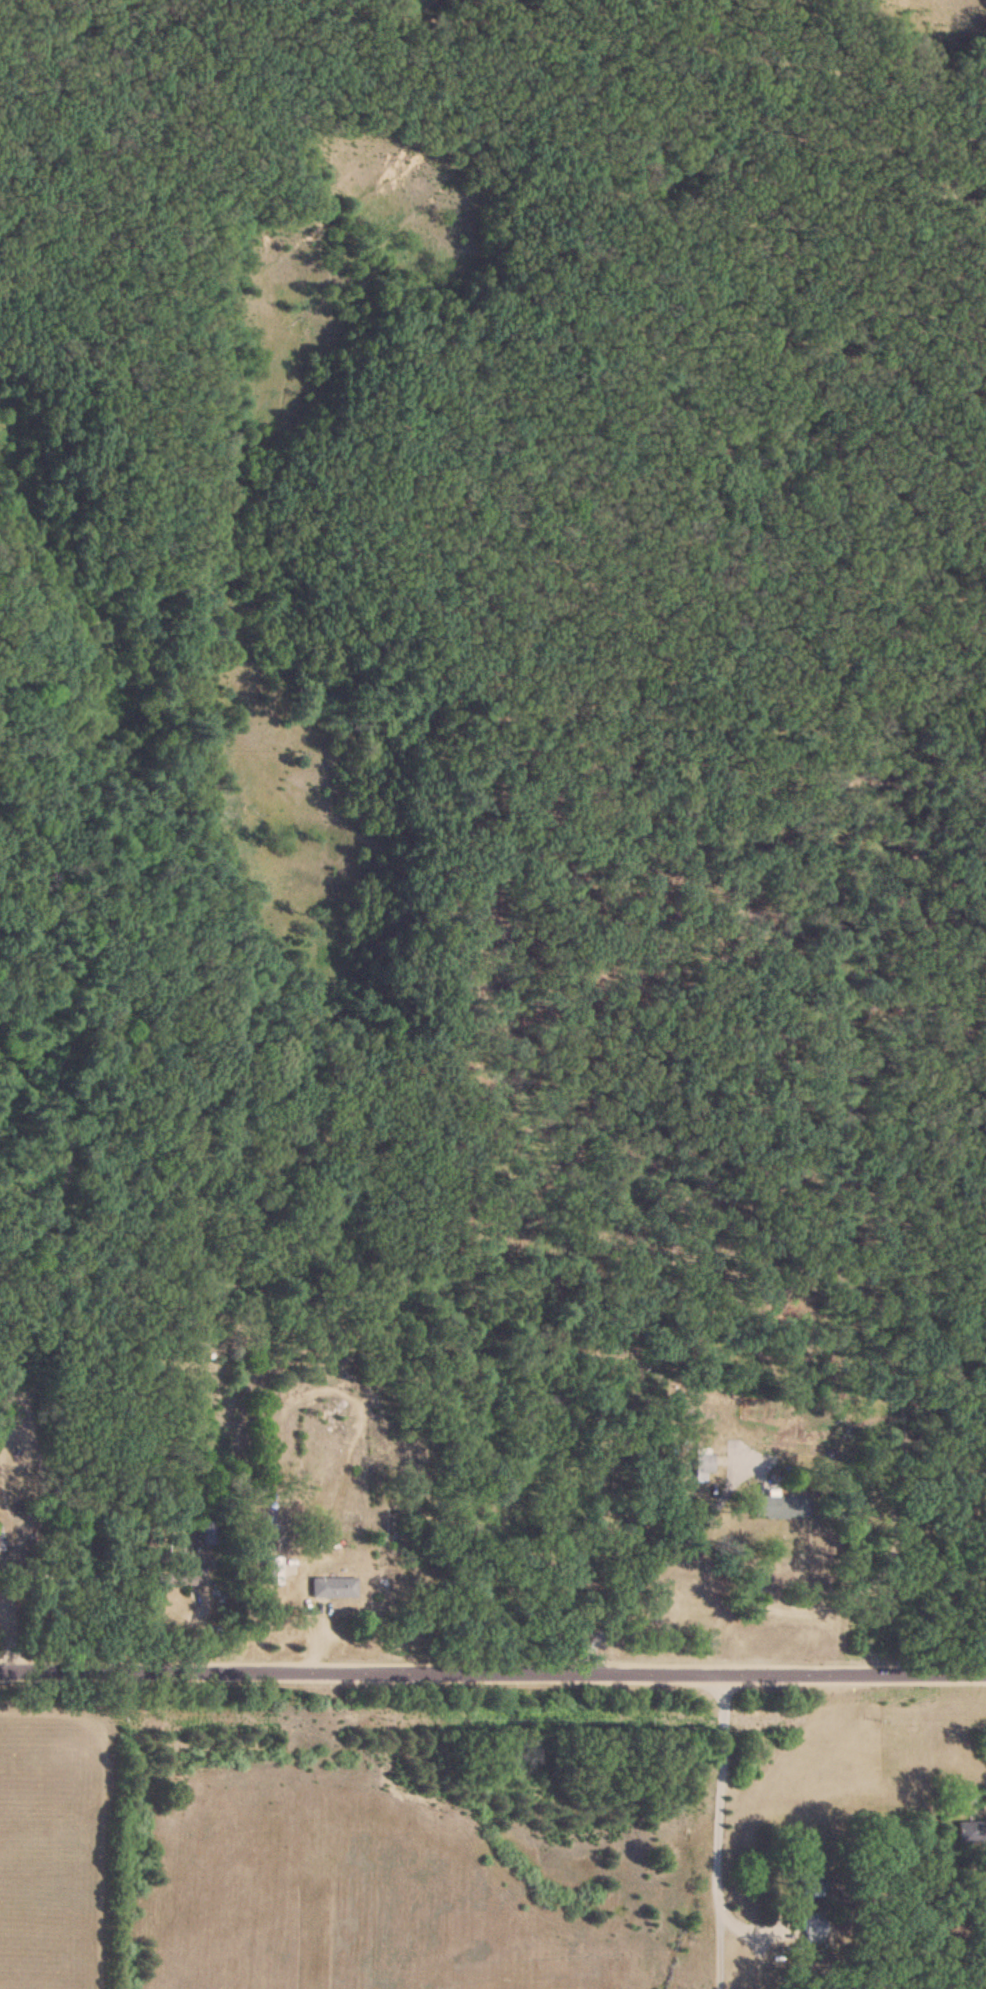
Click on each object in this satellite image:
building: (702, 1462)
building: (780, 1506)
building: (205, 1532)
building: (1, 1542)
road: (657, 1562)
building: (271, 1570)
building: (185, 1580)
building: (332, 1587)
road: (492, 1672)
building: (972, 1829)
road: (718, 1831)
building: (813, 1885)
building: (815, 1926)

